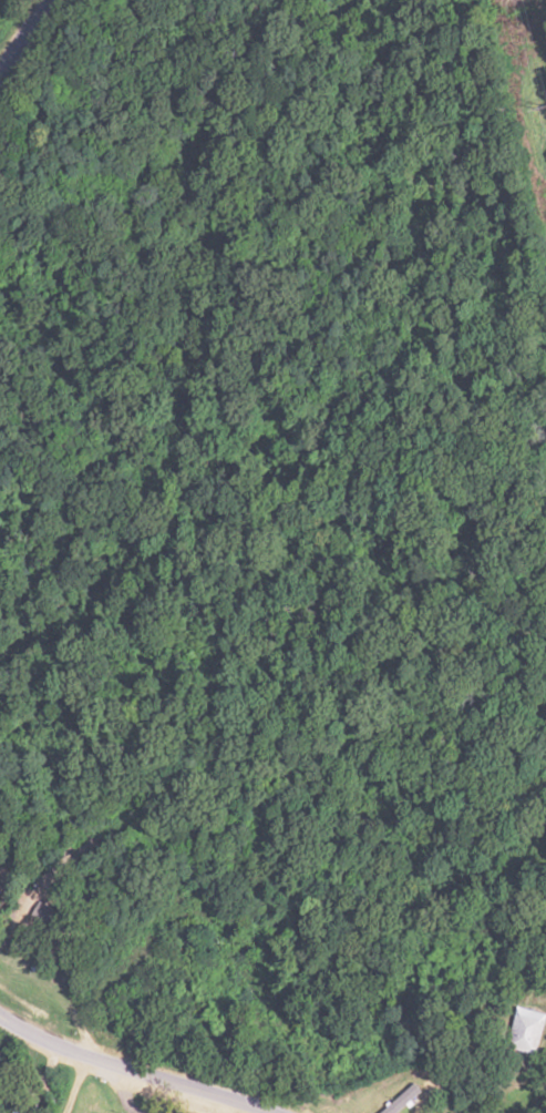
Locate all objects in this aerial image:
road: (24, 35)
building: (48, 917)
building: (530, 1031)
road: (128, 1069)
road: (69, 1084)
building: (28, 1103)
building: (372, 1107)
building: (450, 1112)

